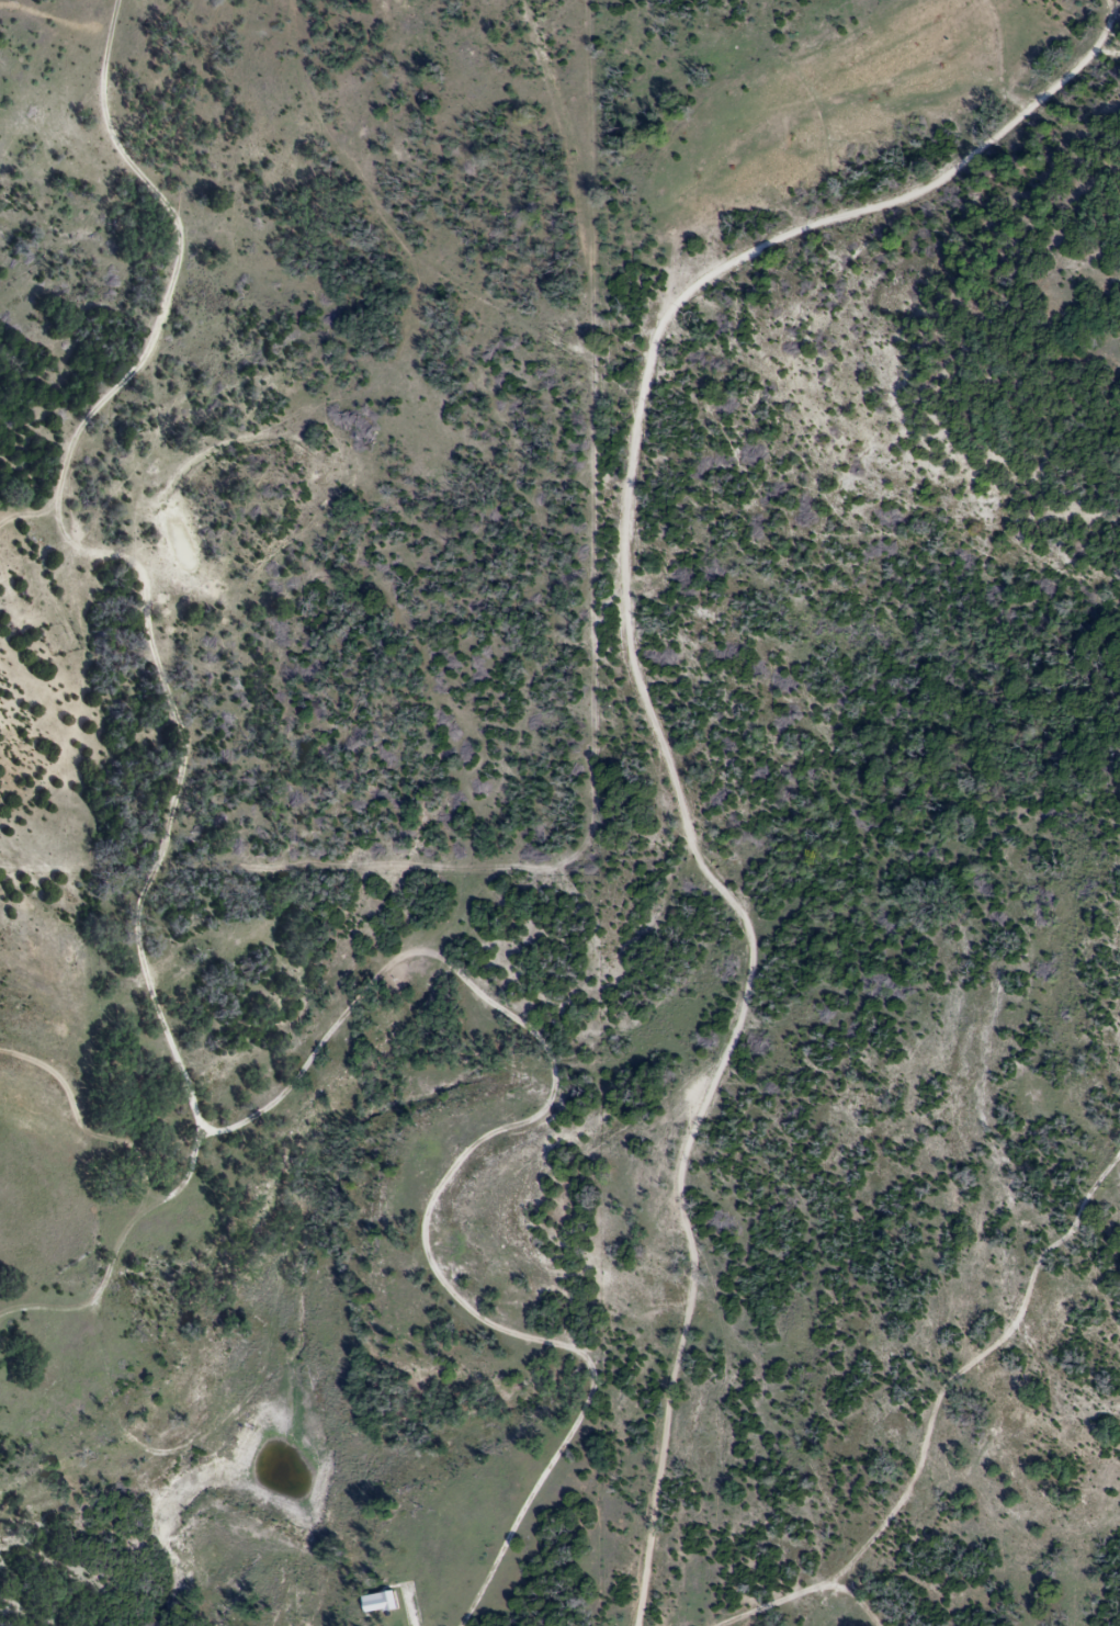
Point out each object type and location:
road: (161, 673)
road: (653, 729)
road: (465, 1153)

